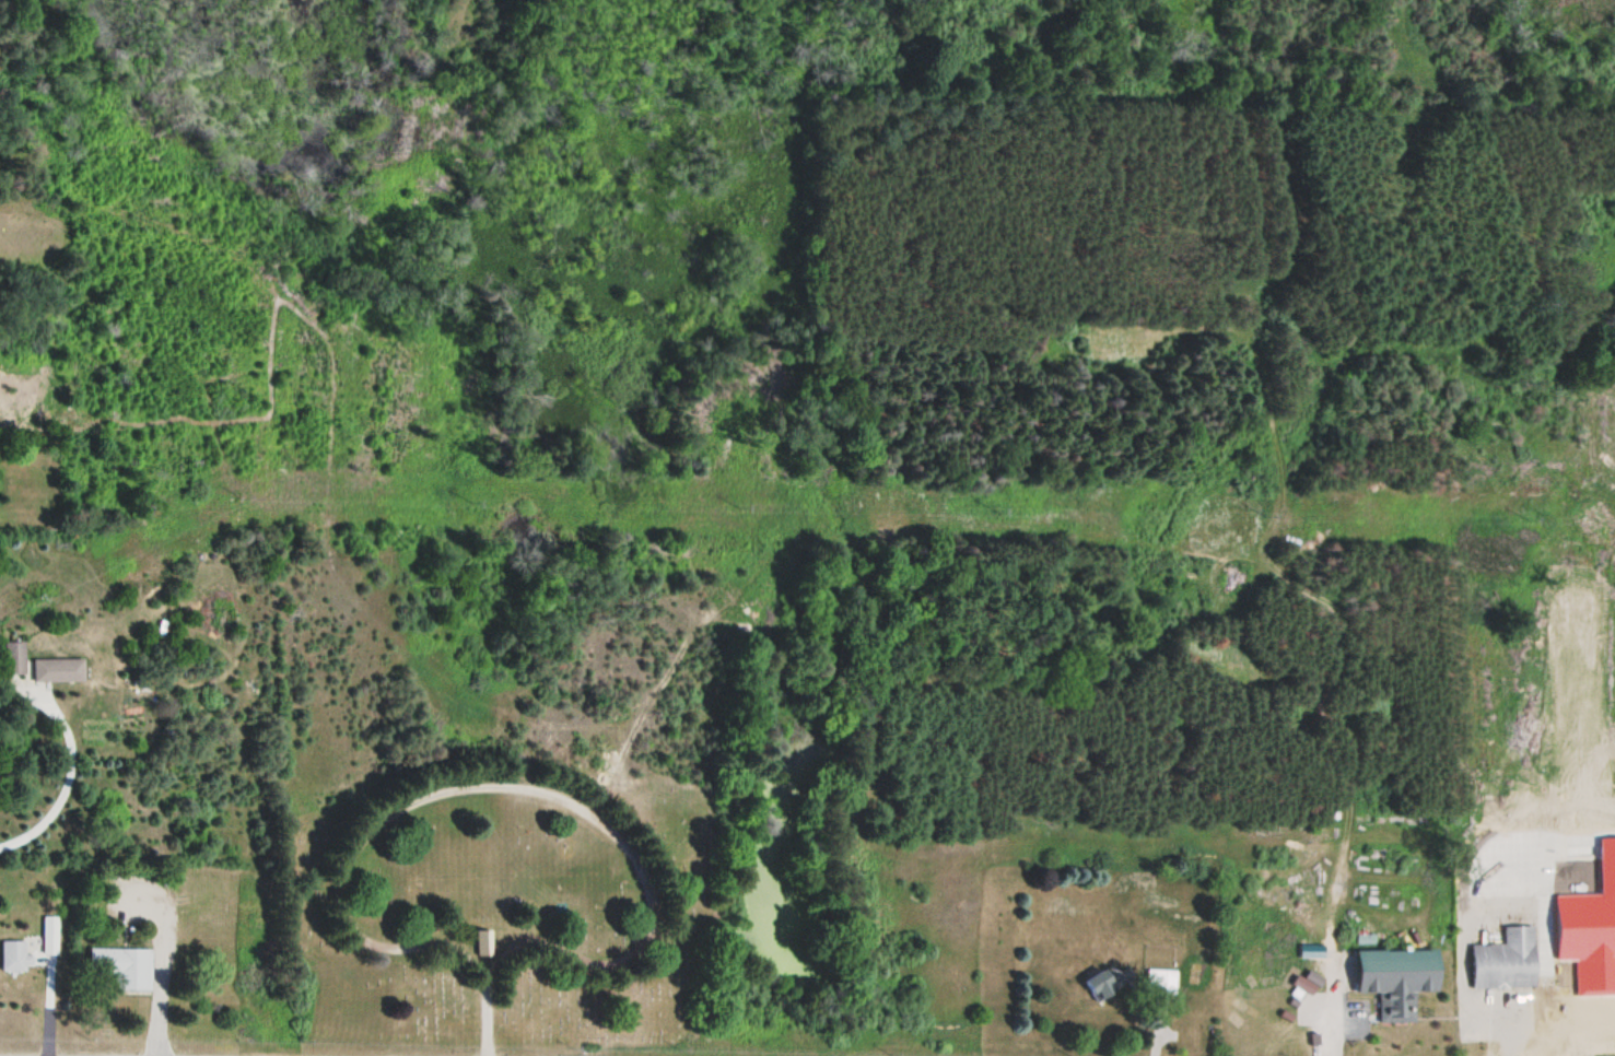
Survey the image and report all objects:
building: (14, 657)
building: (58, 668)
road: (562, 797)
park: (489, 904)
building: (481, 941)
building: (14, 955)
building: (1506, 960)
building: (122, 965)
building: (1395, 979)
building: (1105, 981)
building: (1158, 981)
road: (483, 1013)

